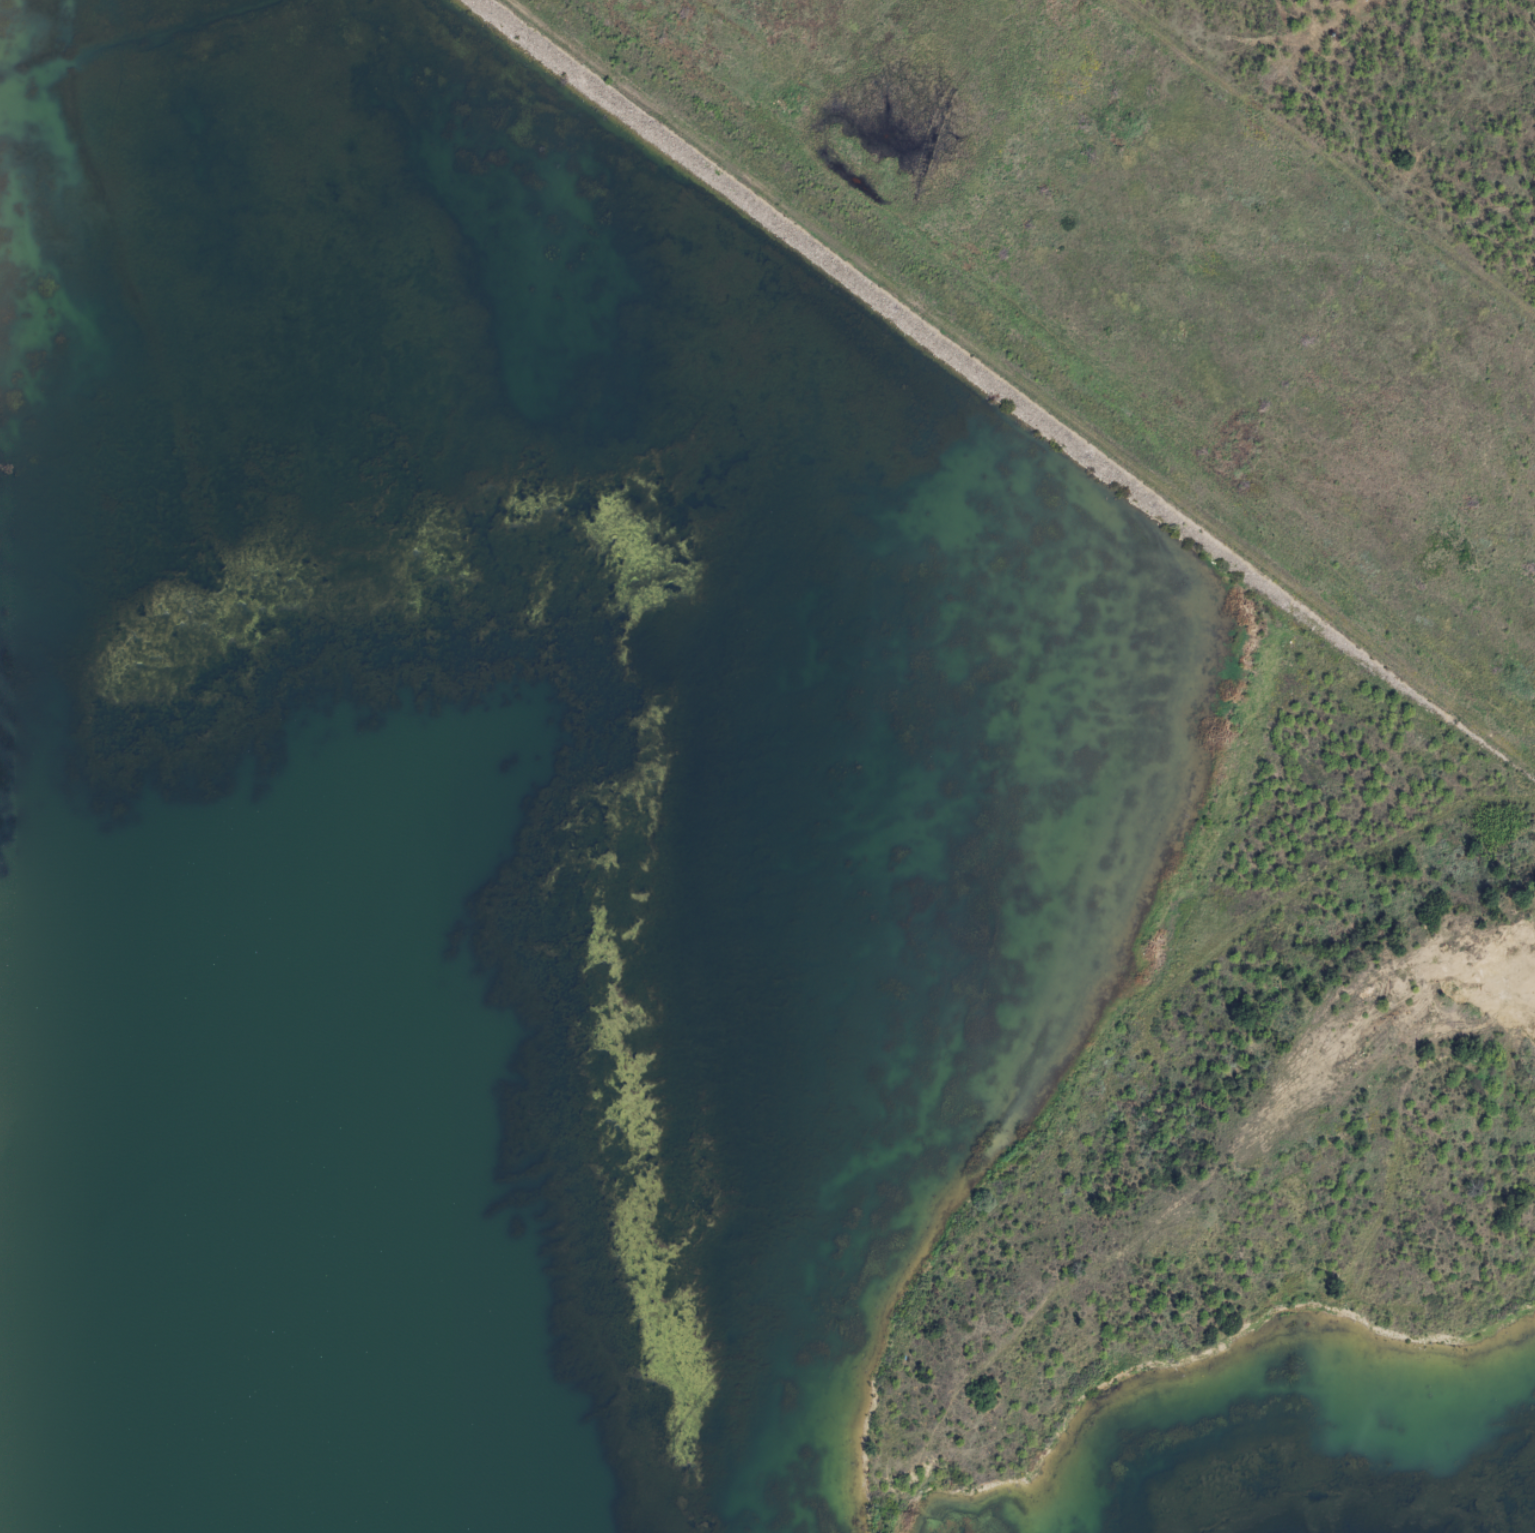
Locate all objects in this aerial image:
road: (1023, 383)
road: (1187, 1196)

